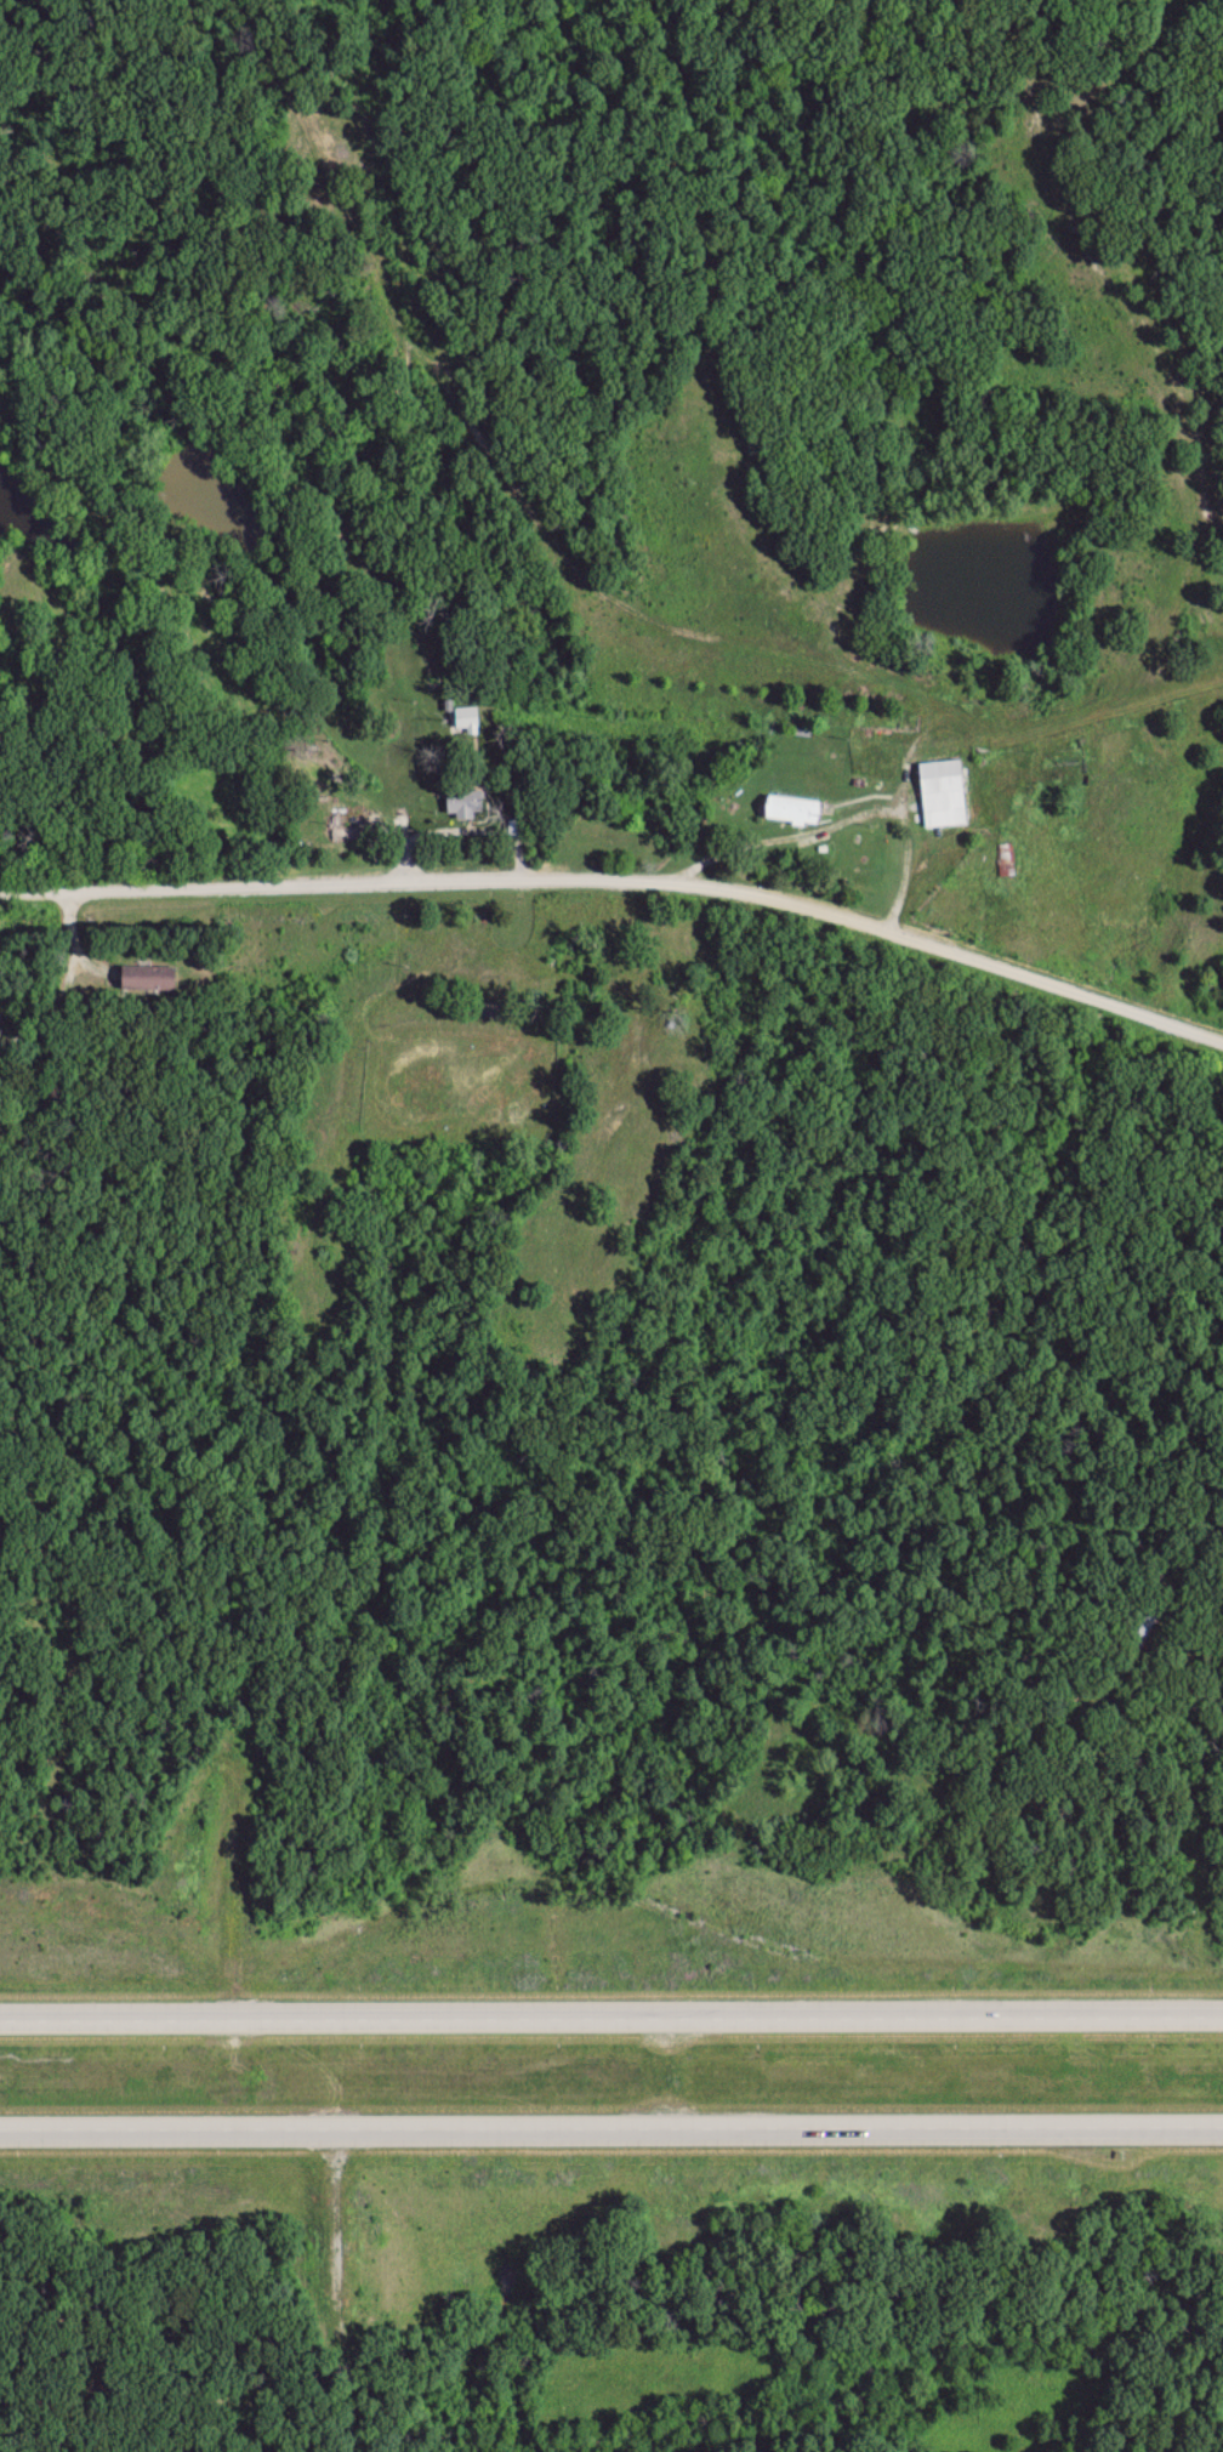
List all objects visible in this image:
building: (468, 719)
building: (945, 795)
building: (467, 804)
building: (795, 810)
road: (912, 843)
road: (622, 881)
building: (150, 978)
road: (610, 2014)
road: (611, 2127)

